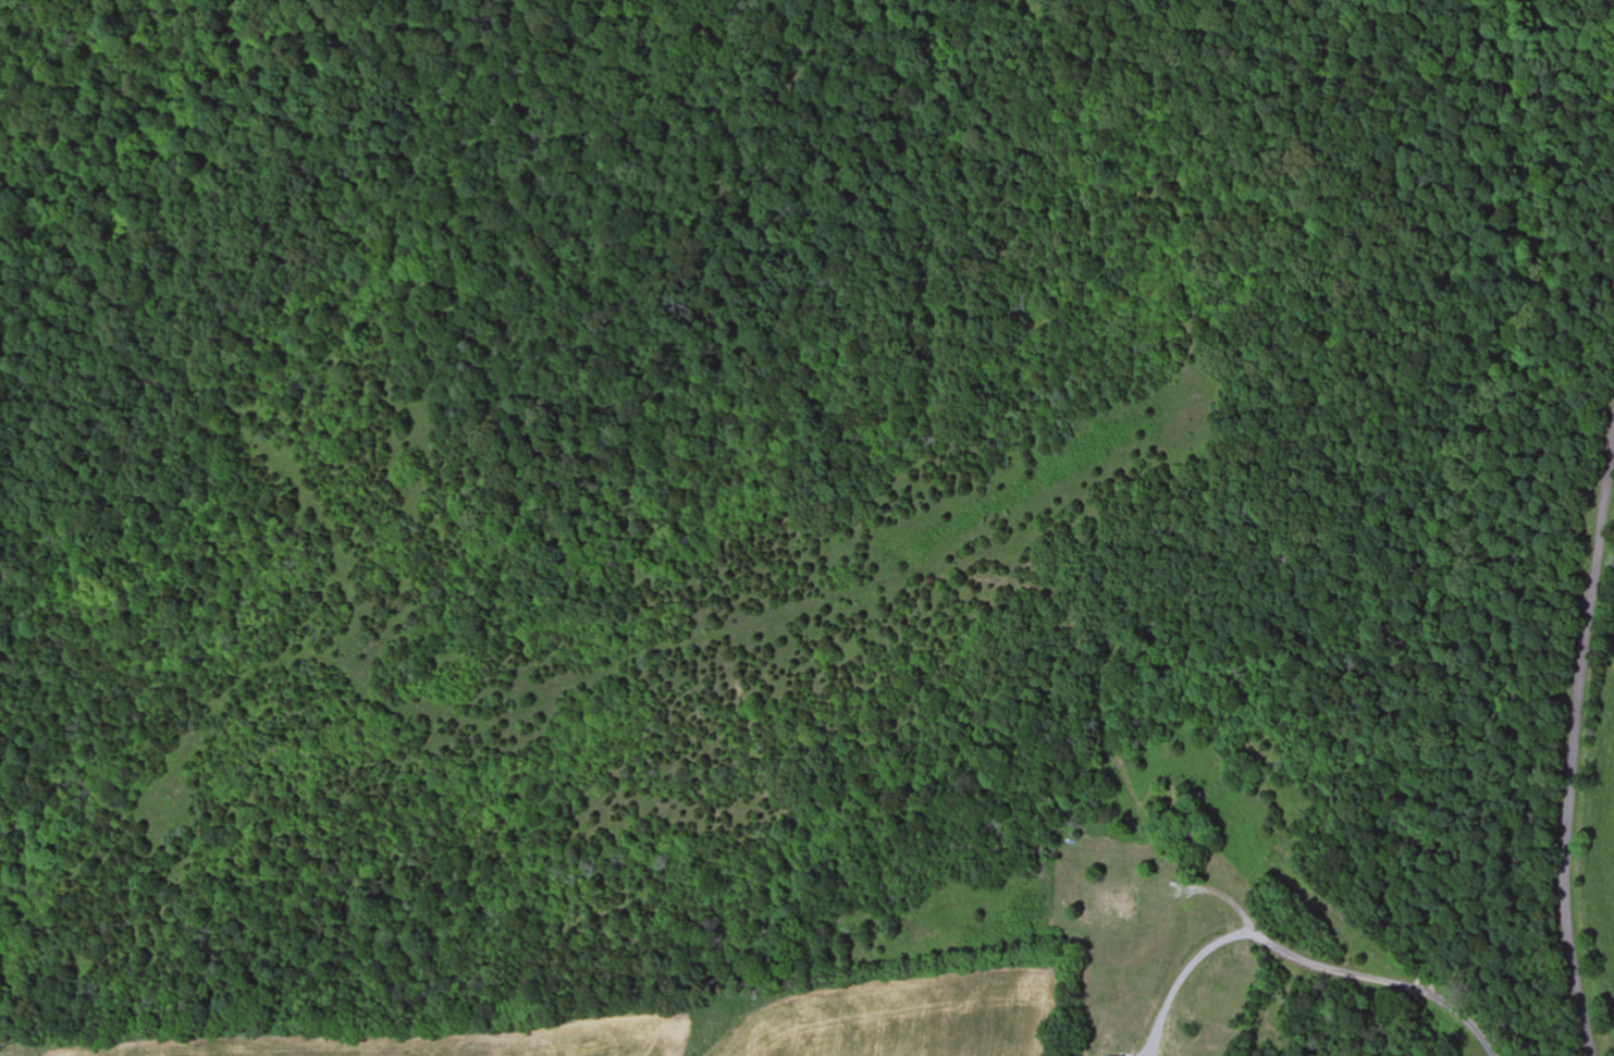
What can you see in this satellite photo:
road: (1575, 747)
building: (1126, 906)
road: (1375, 980)

